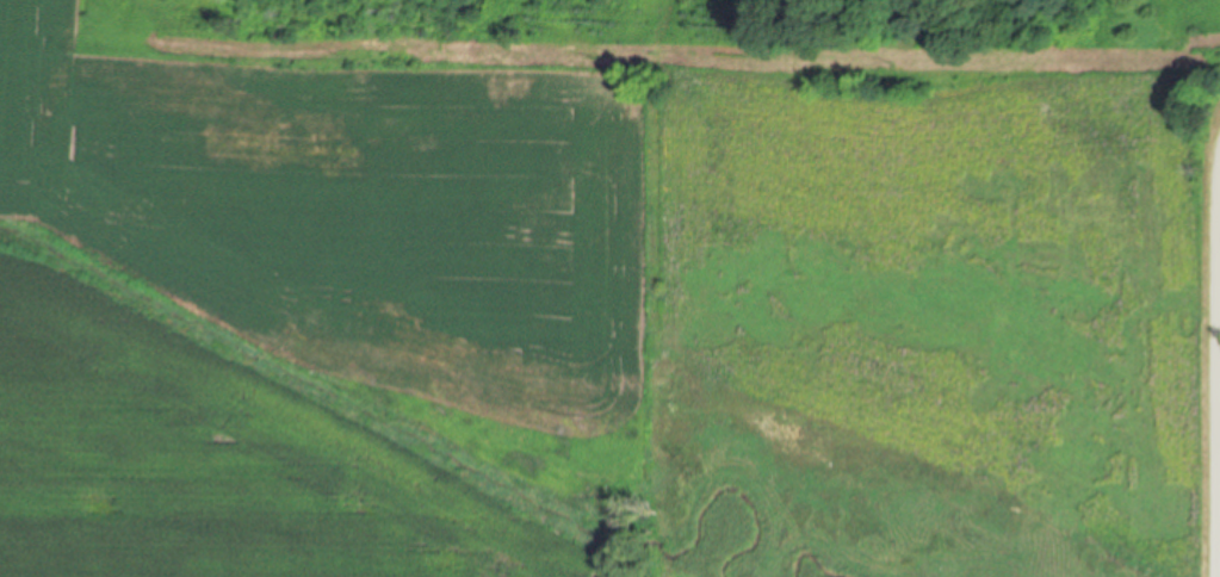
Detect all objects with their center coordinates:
road: (1218, 455)

